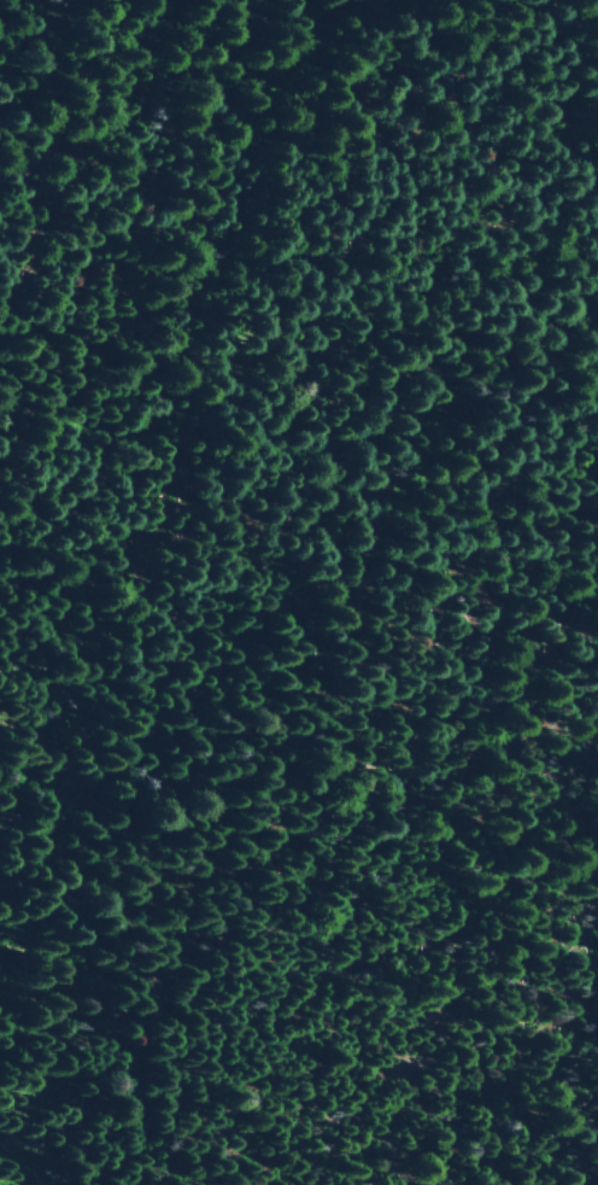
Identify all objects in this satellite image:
road: (364, 362)
road: (27, 1163)
road: (528, 1181)

